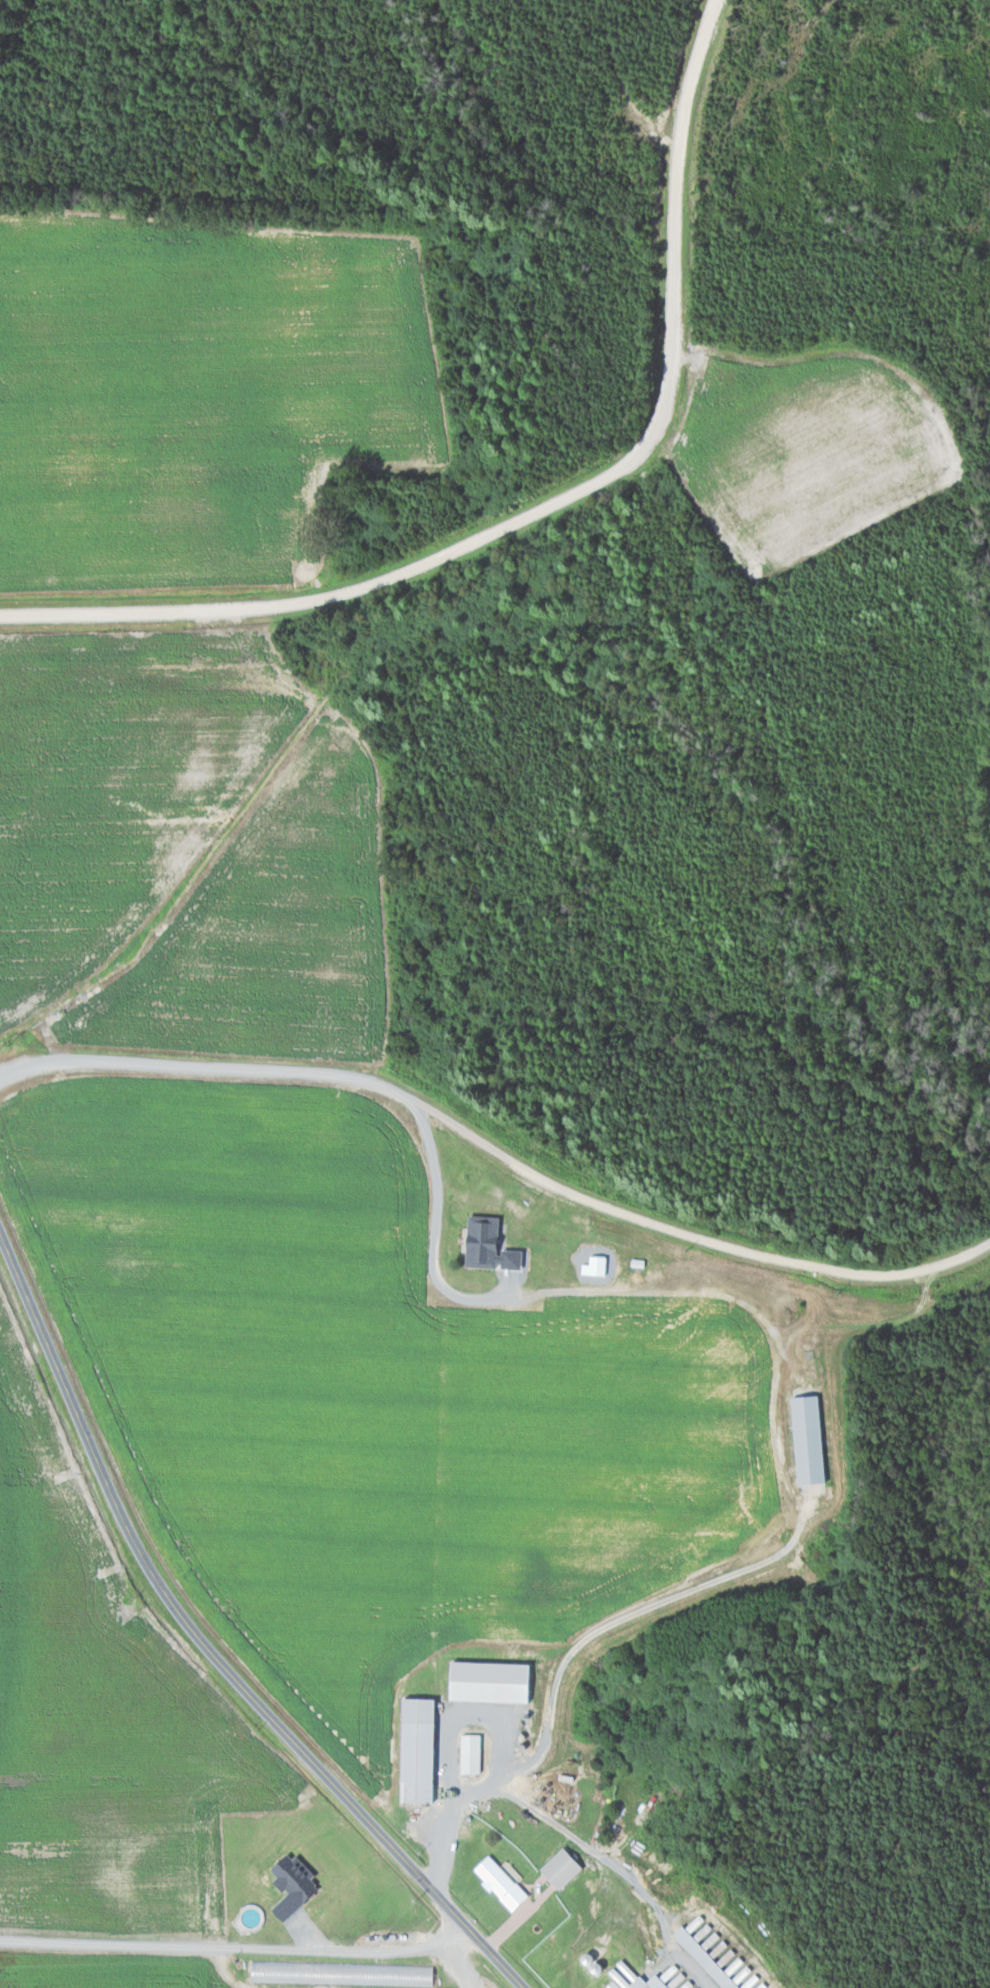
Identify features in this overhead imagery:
road: (547, 500)
building: (486, 1246)
building: (806, 1440)
road: (210, 1641)
building: (488, 1680)
building: (415, 1749)
building: (559, 1867)
building: (498, 1882)
building: (290, 1884)
road: (239, 1947)
building: (714, 1954)
building: (401, 1973)
building: (623, 1976)
building: (655, 1982)

